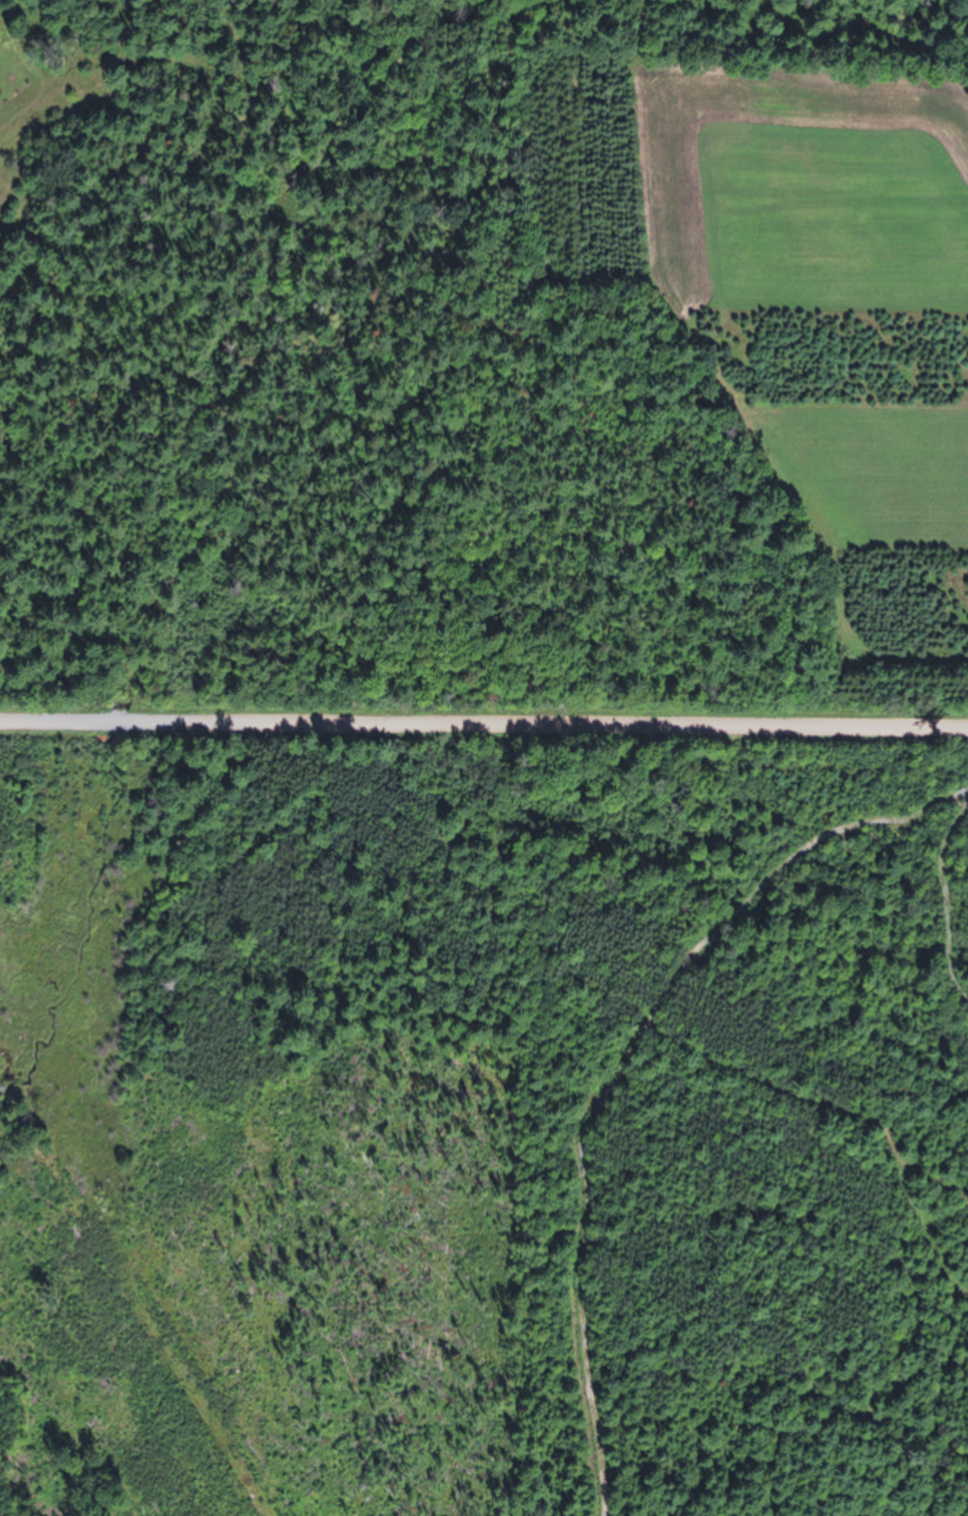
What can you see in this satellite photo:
road: (484, 730)

